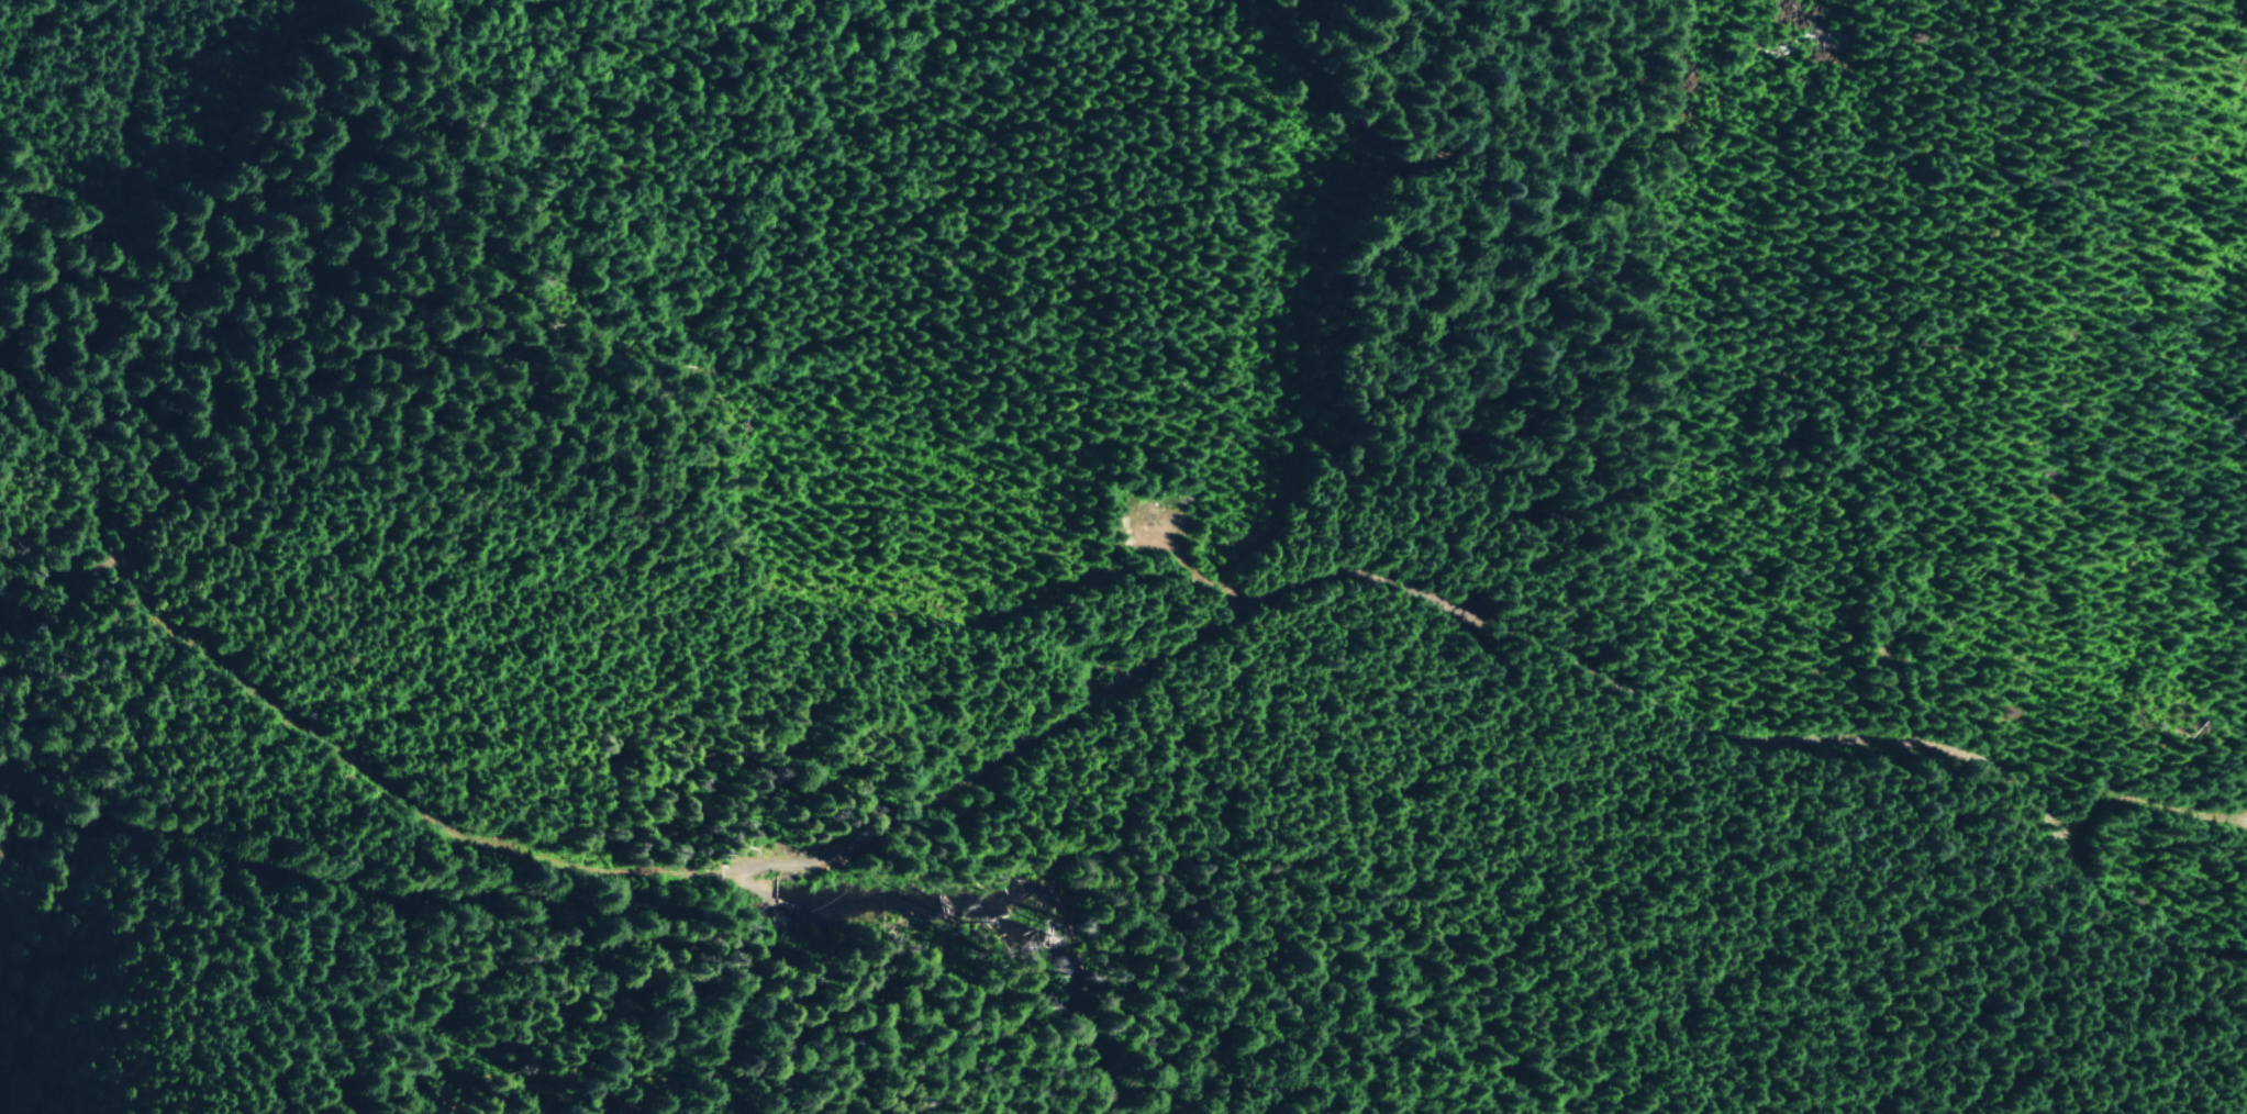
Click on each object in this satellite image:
road: (946, 305)

